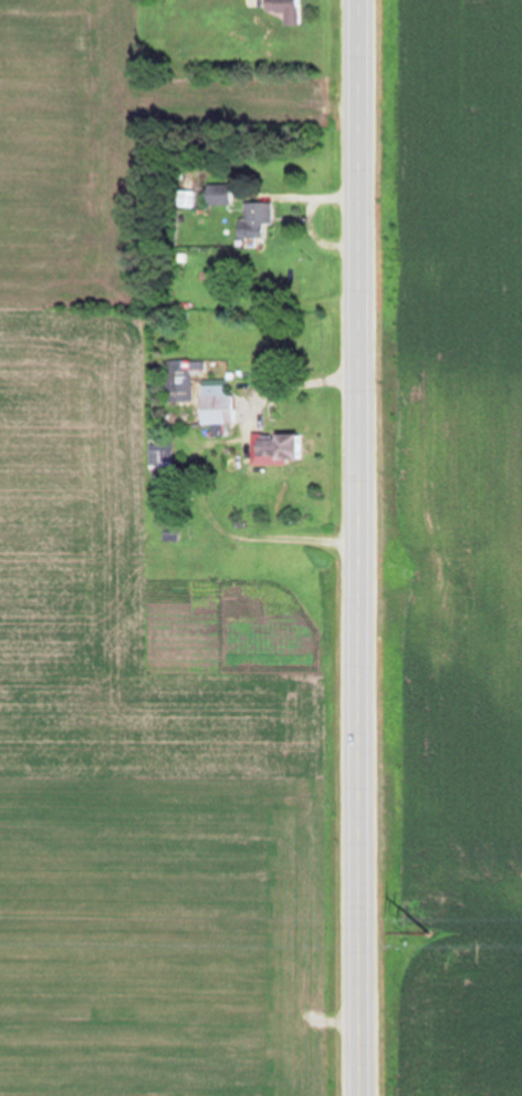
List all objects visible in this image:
building: (282, 9)
building: (216, 194)
road: (300, 199)
building: (253, 218)
building: (181, 376)
road: (270, 386)
building: (215, 406)
building: (275, 447)
road: (357, 548)
power tower: (429, 924)

